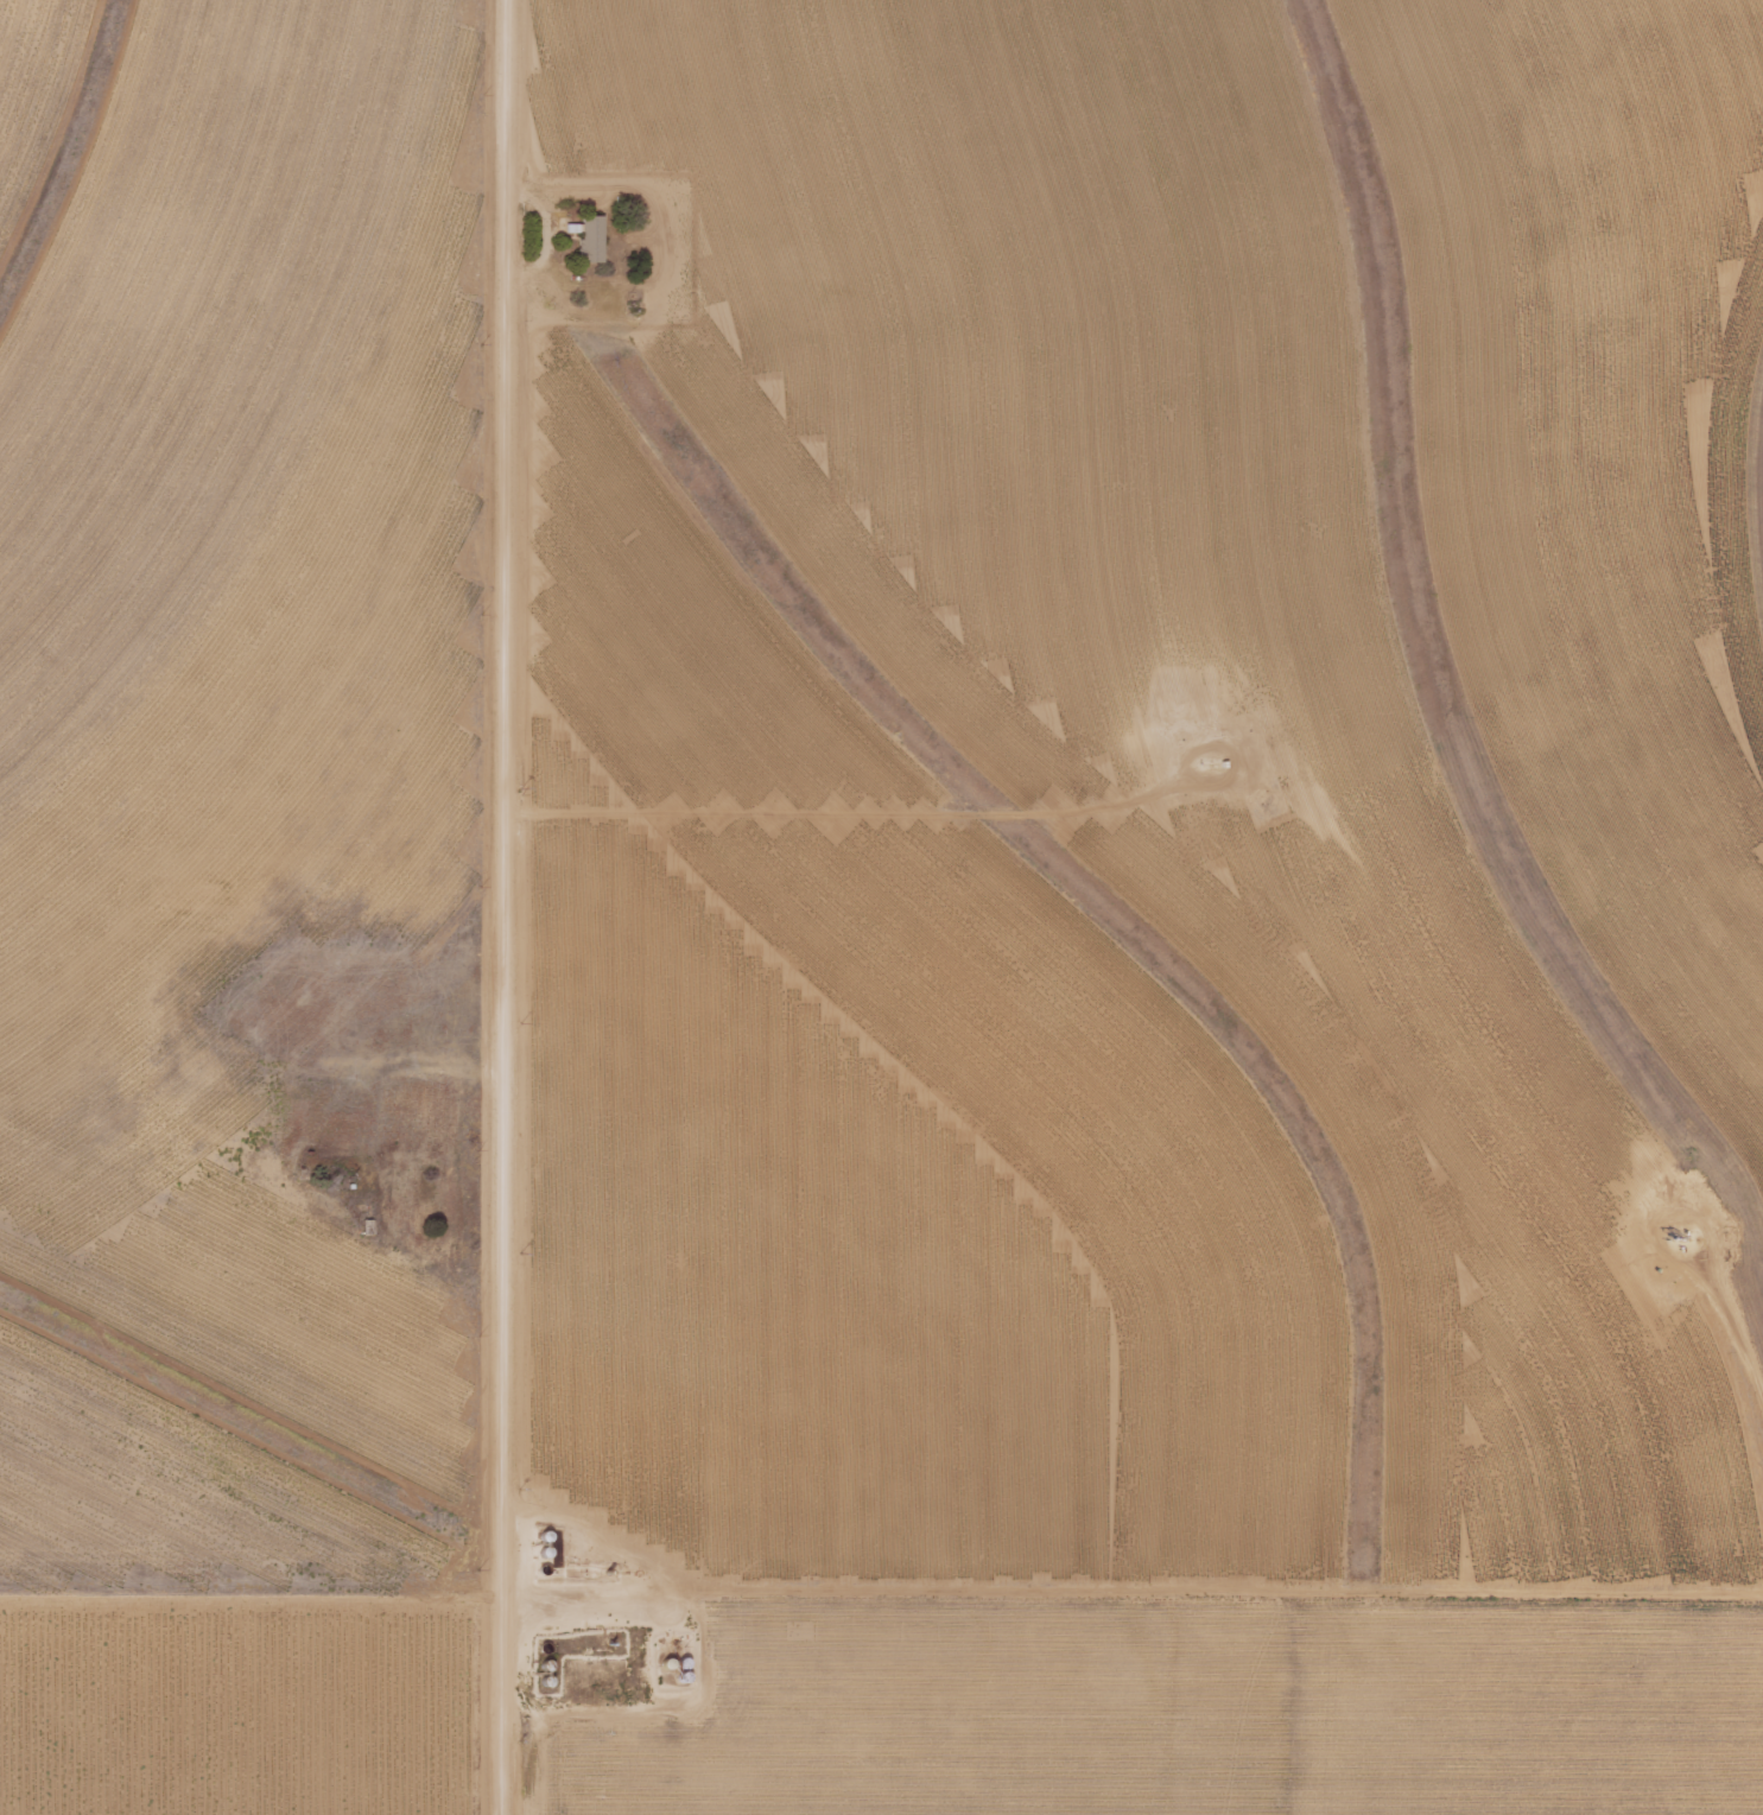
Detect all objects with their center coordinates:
building: (586, 240)
road: (508, 907)

